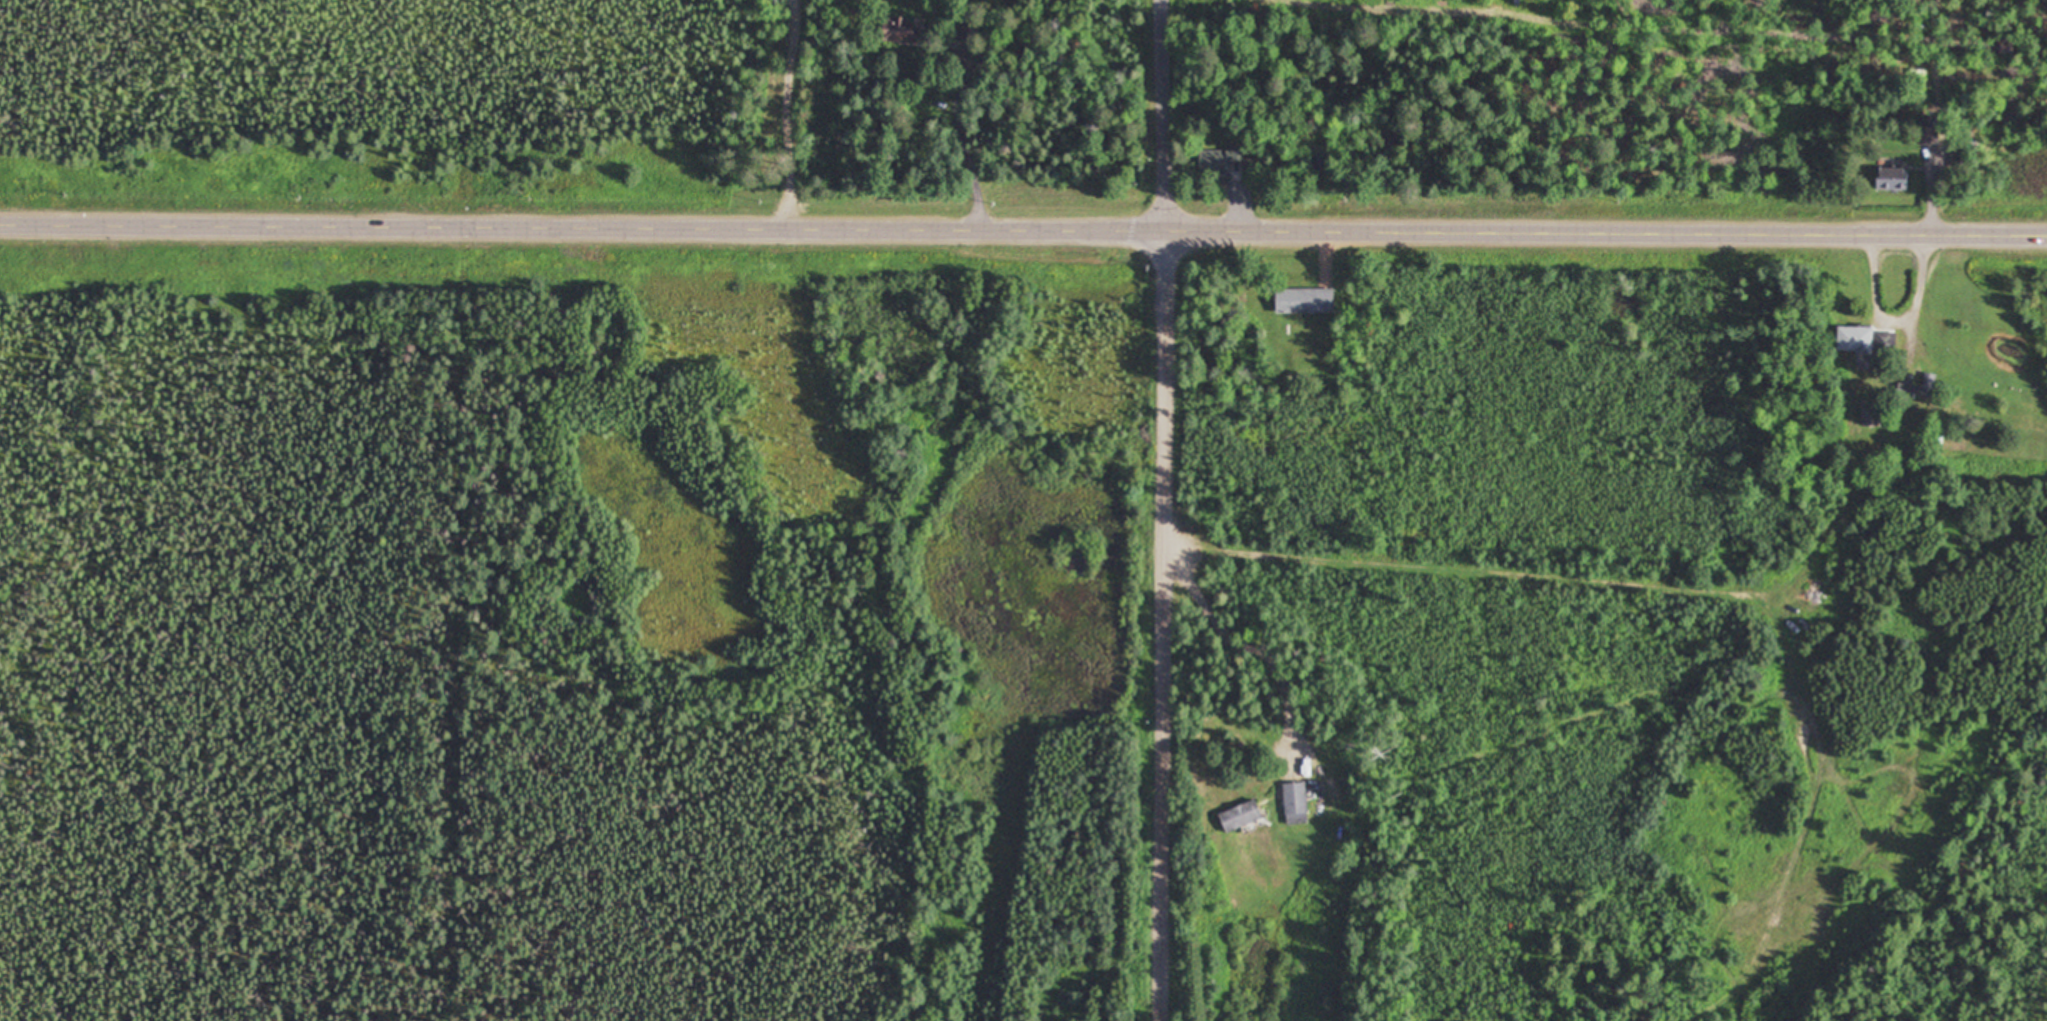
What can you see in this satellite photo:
building: (900, 29)
building: (966, 30)
road: (1167, 112)
building: (1928, 130)
building: (1220, 159)
building: (1891, 178)
road: (1023, 223)
building: (1304, 300)
building: (1855, 339)
building: (1919, 387)
building: (1871, 414)
road: (1168, 622)
building: (1295, 803)
building: (1240, 816)

